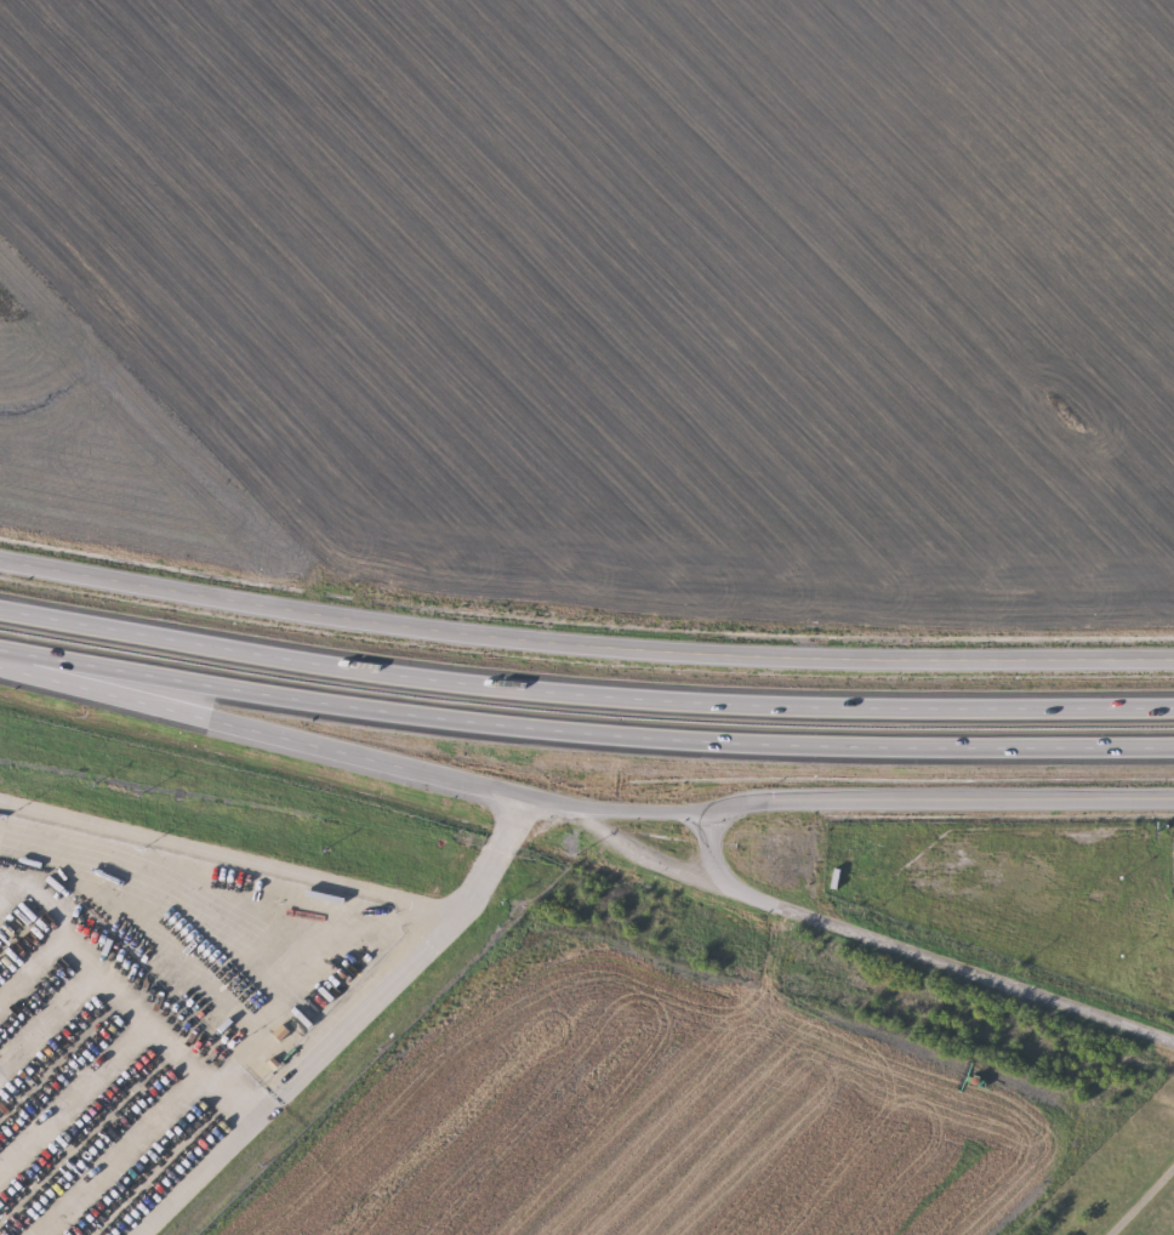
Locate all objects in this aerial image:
road: (583, 647)
road: (583, 693)
road: (280, 732)
road: (583, 732)
road: (866, 797)
road: (709, 847)
road: (293, 869)
road: (861, 932)
road: (293, 1071)
road: (1142, 1201)

